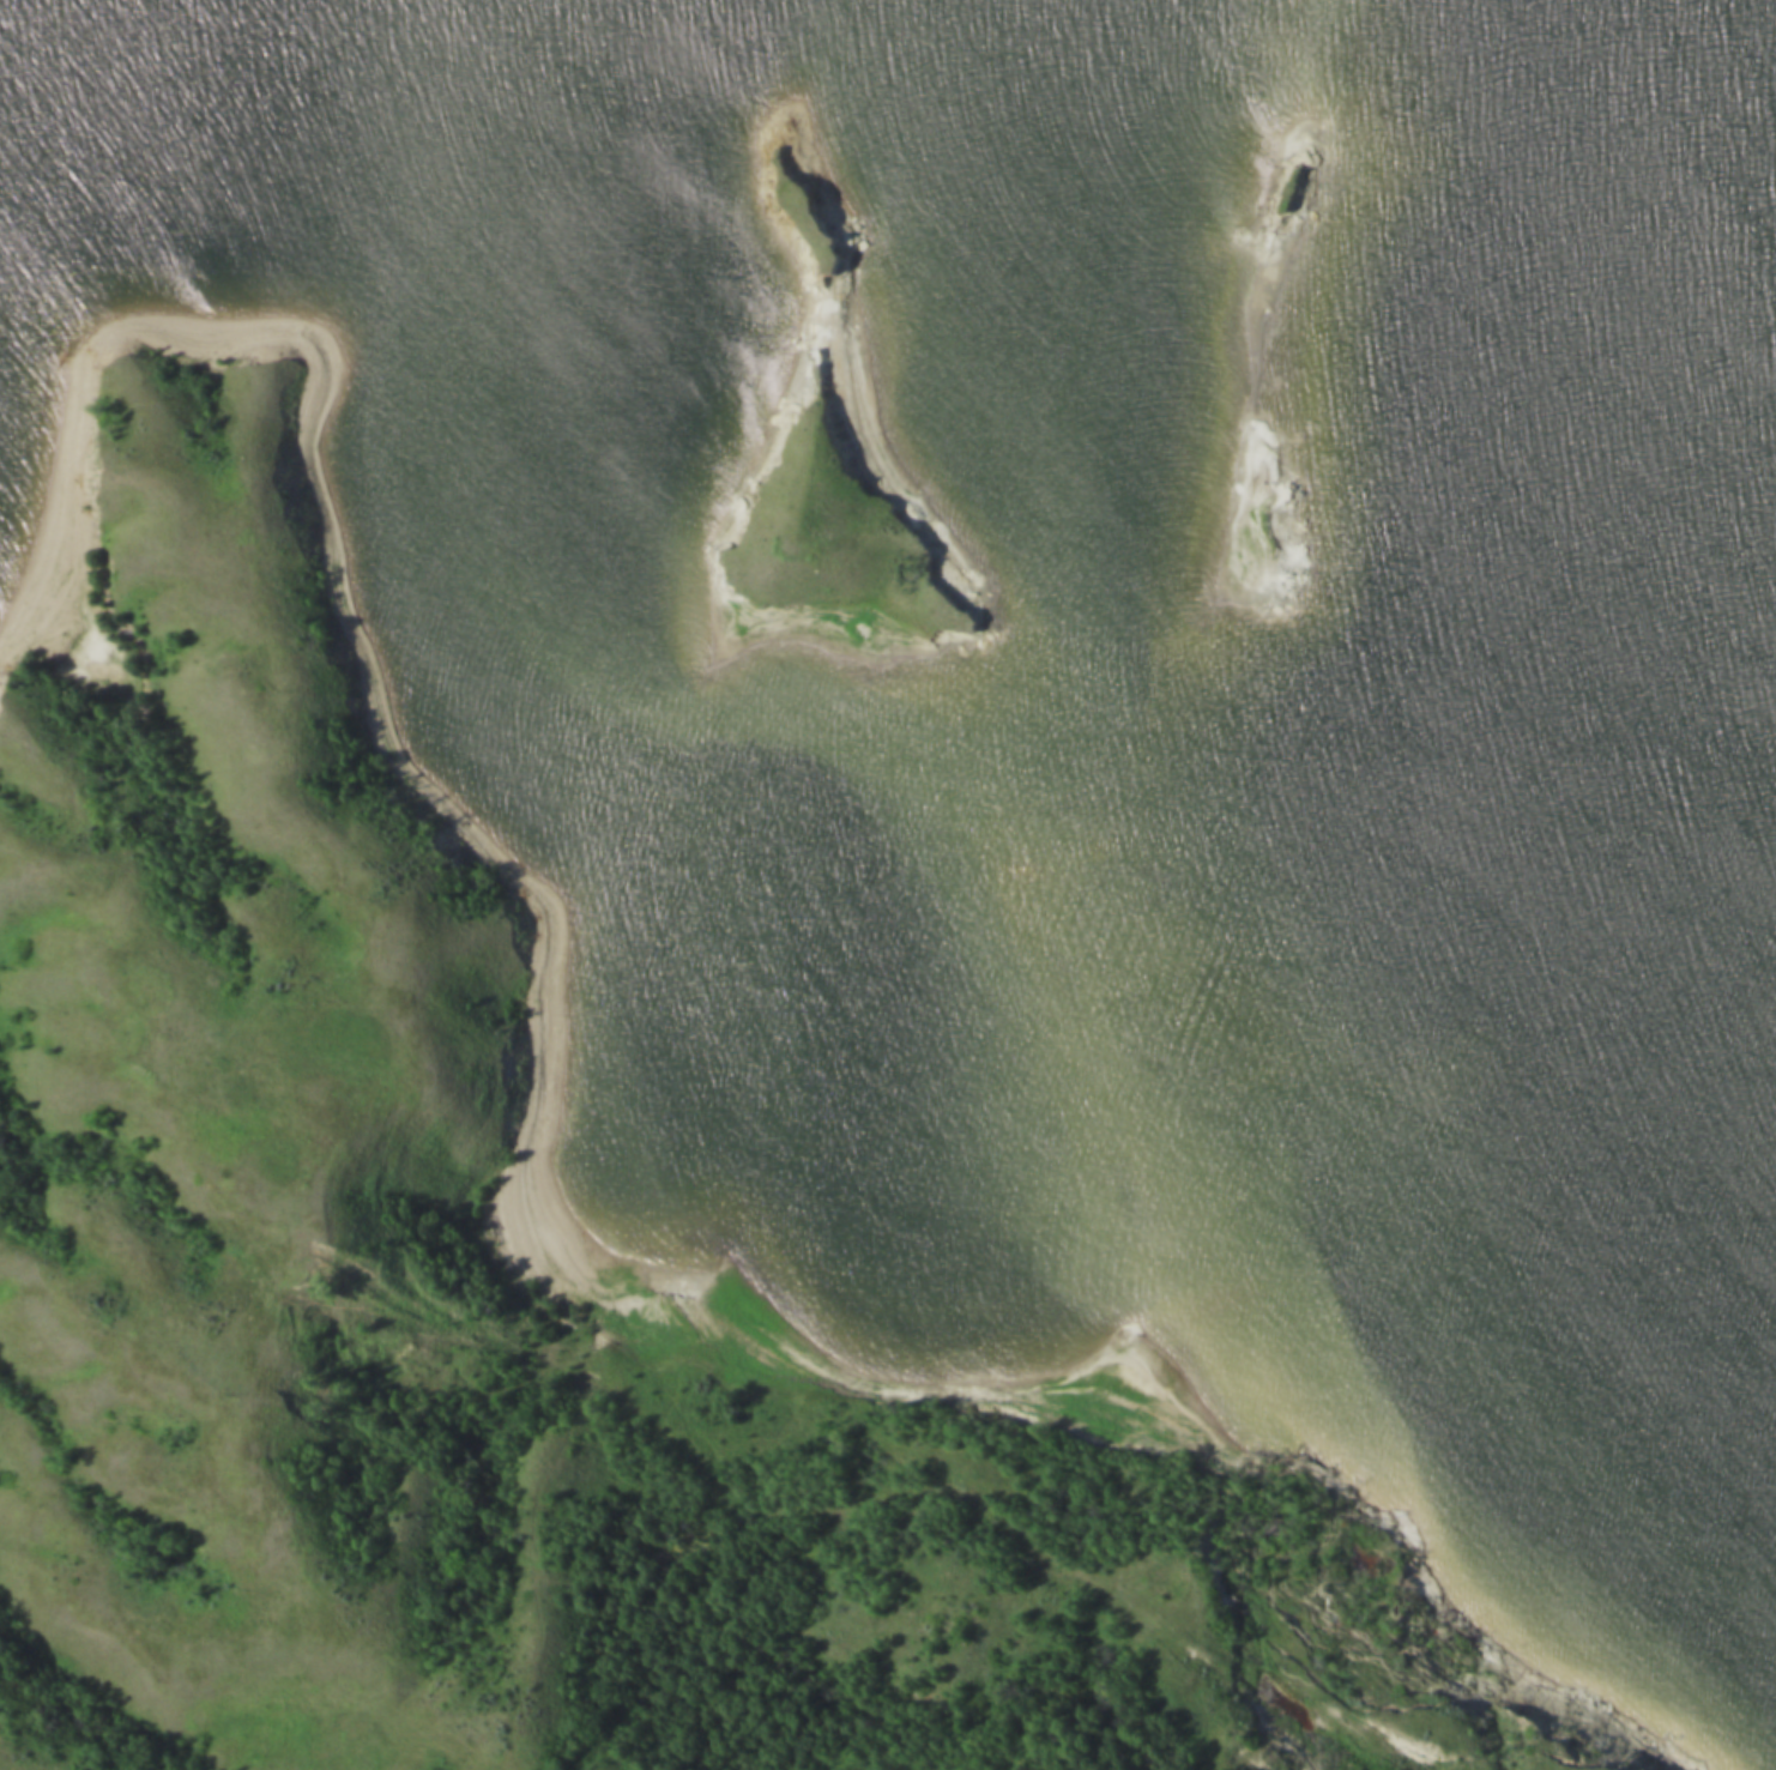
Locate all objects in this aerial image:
road: (1464, 1529)
road: (1070, 1582)

